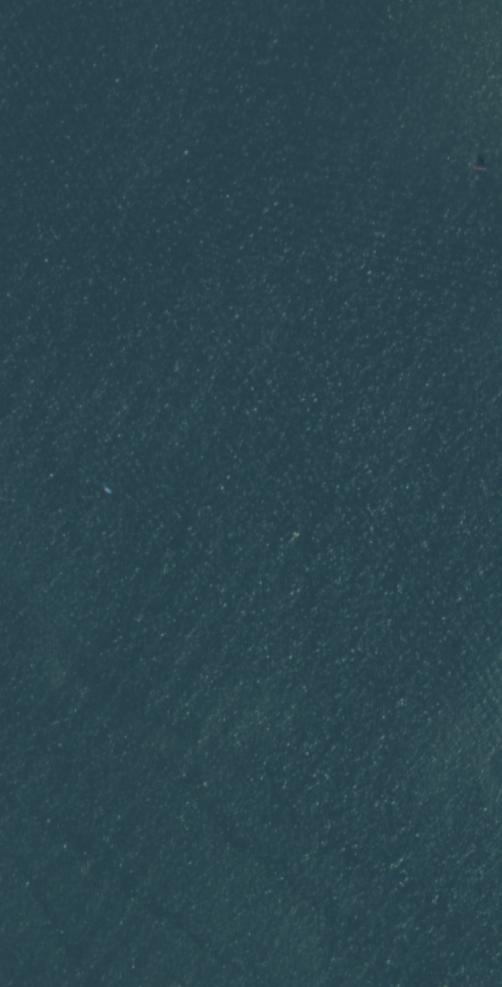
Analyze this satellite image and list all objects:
river: (251, 588)

